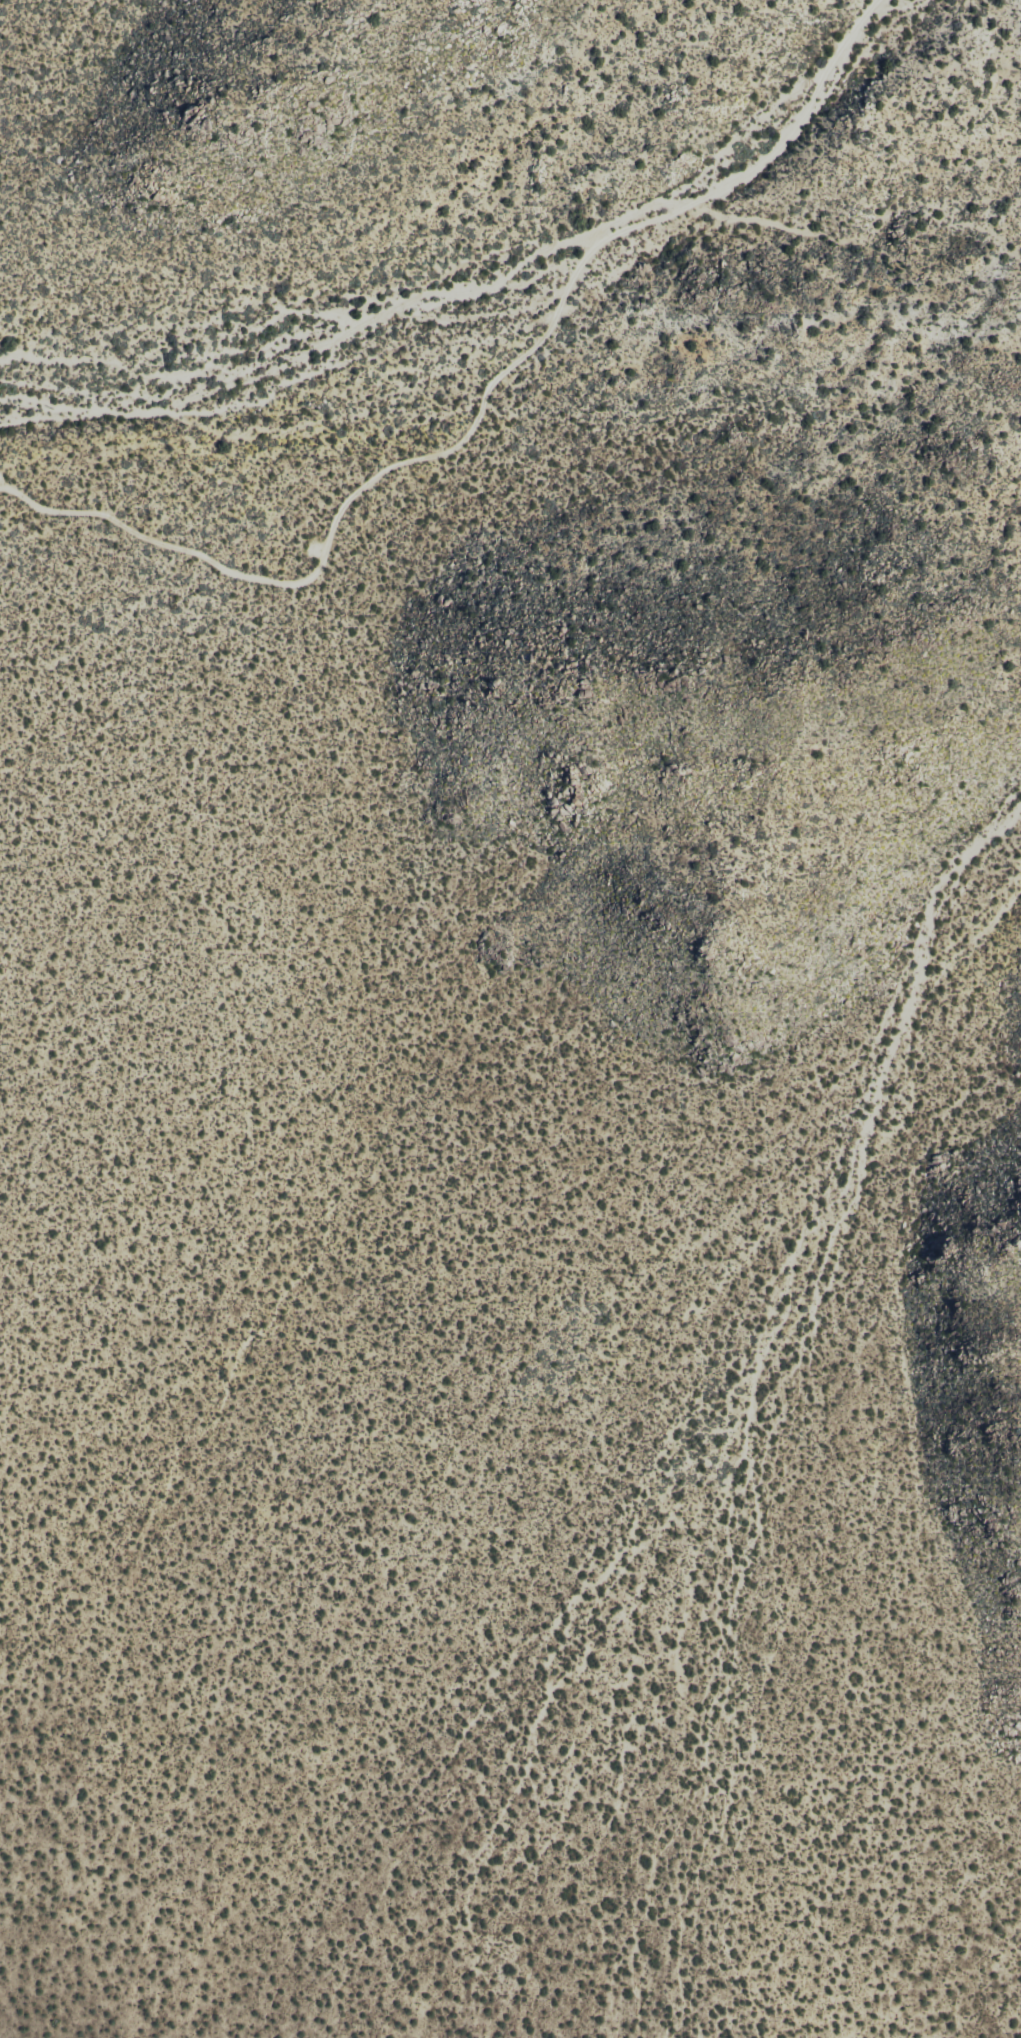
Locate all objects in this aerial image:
road: (479, 405)

